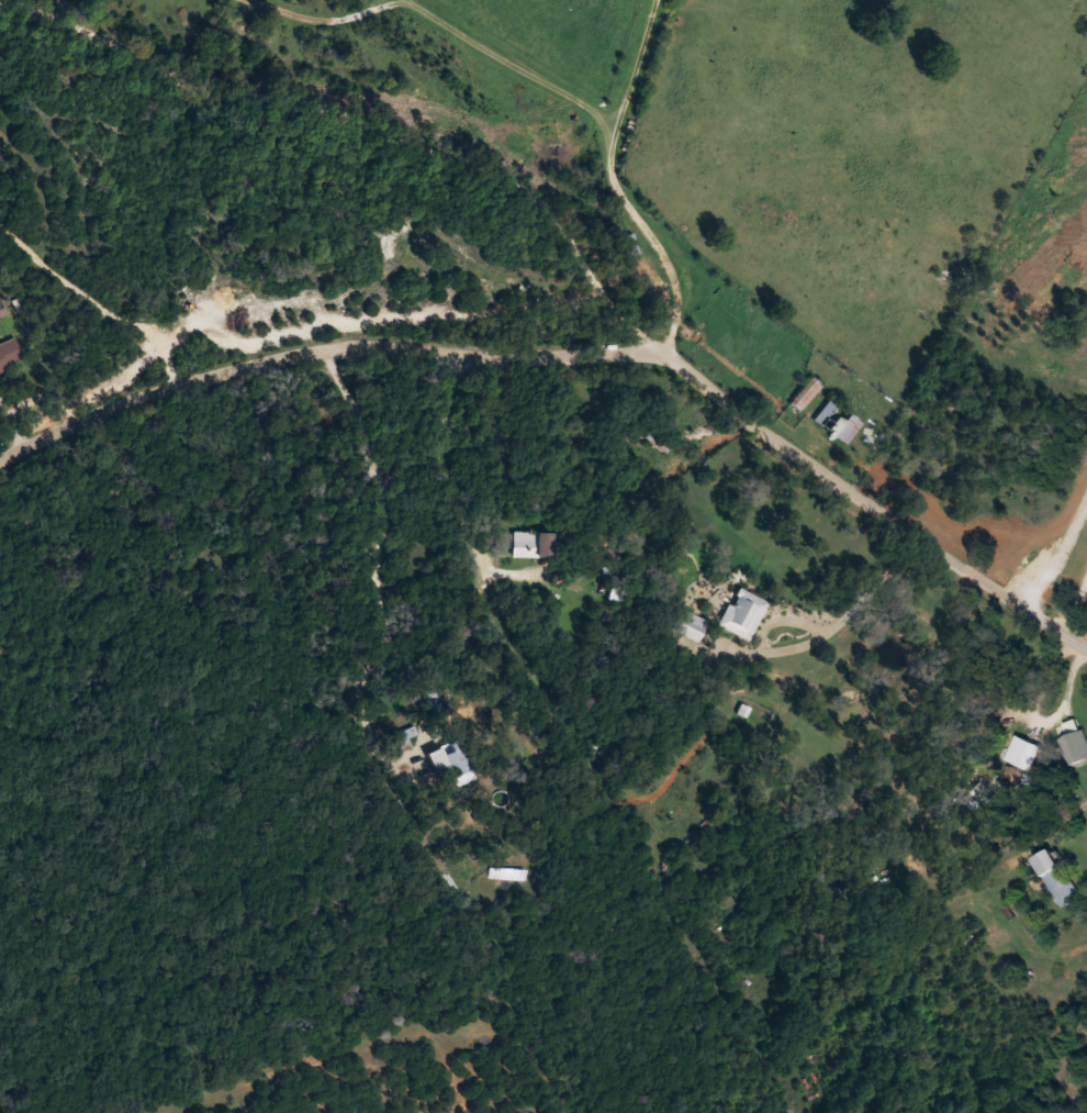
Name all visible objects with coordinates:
road: (351, 148)
building: (629, 245)
building: (10, 354)
road: (582, 356)
building: (806, 393)
building: (839, 421)
building: (653, 439)
building: (534, 544)
building: (743, 613)
road: (343, 622)
building: (693, 626)
building: (1075, 743)
building: (447, 765)
building: (983, 790)
building: (1020, 873)
building: (1058, 878)

